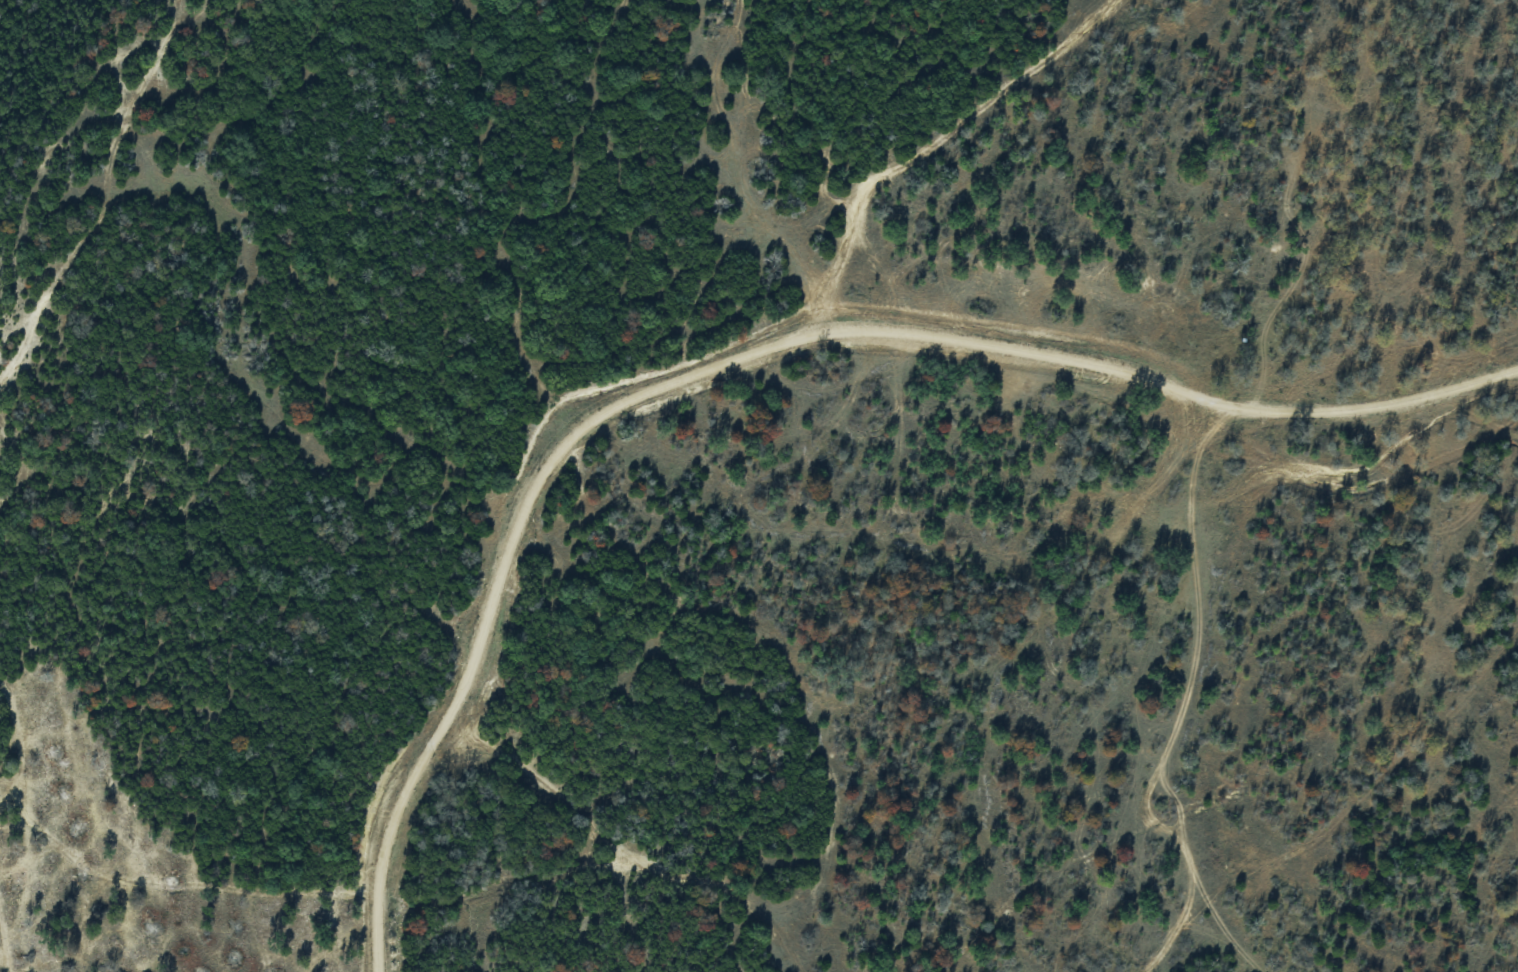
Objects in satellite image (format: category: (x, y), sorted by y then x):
road: (910, 140)
road: (749, 352)

